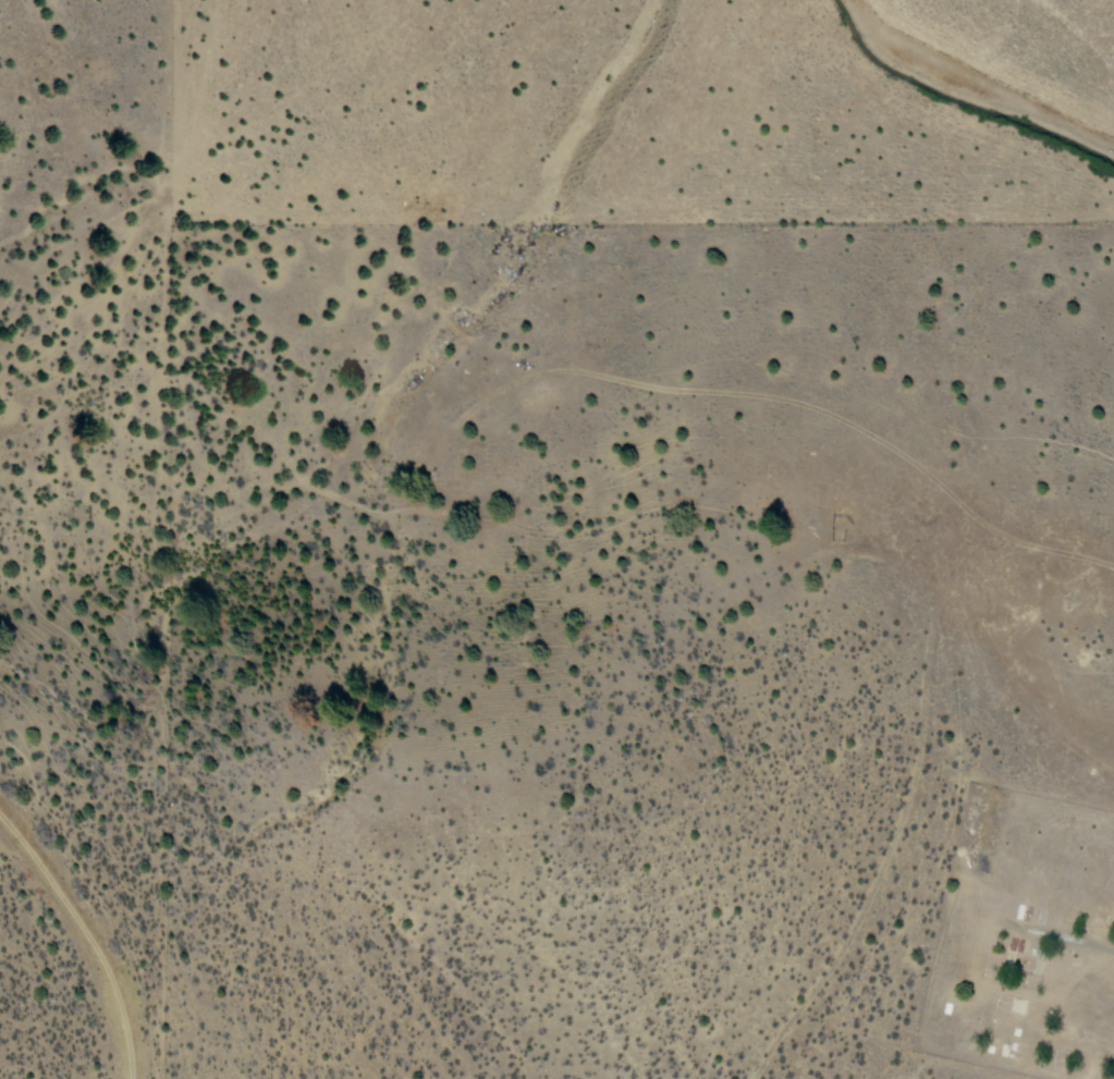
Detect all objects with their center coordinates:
park: (1025, 940)

